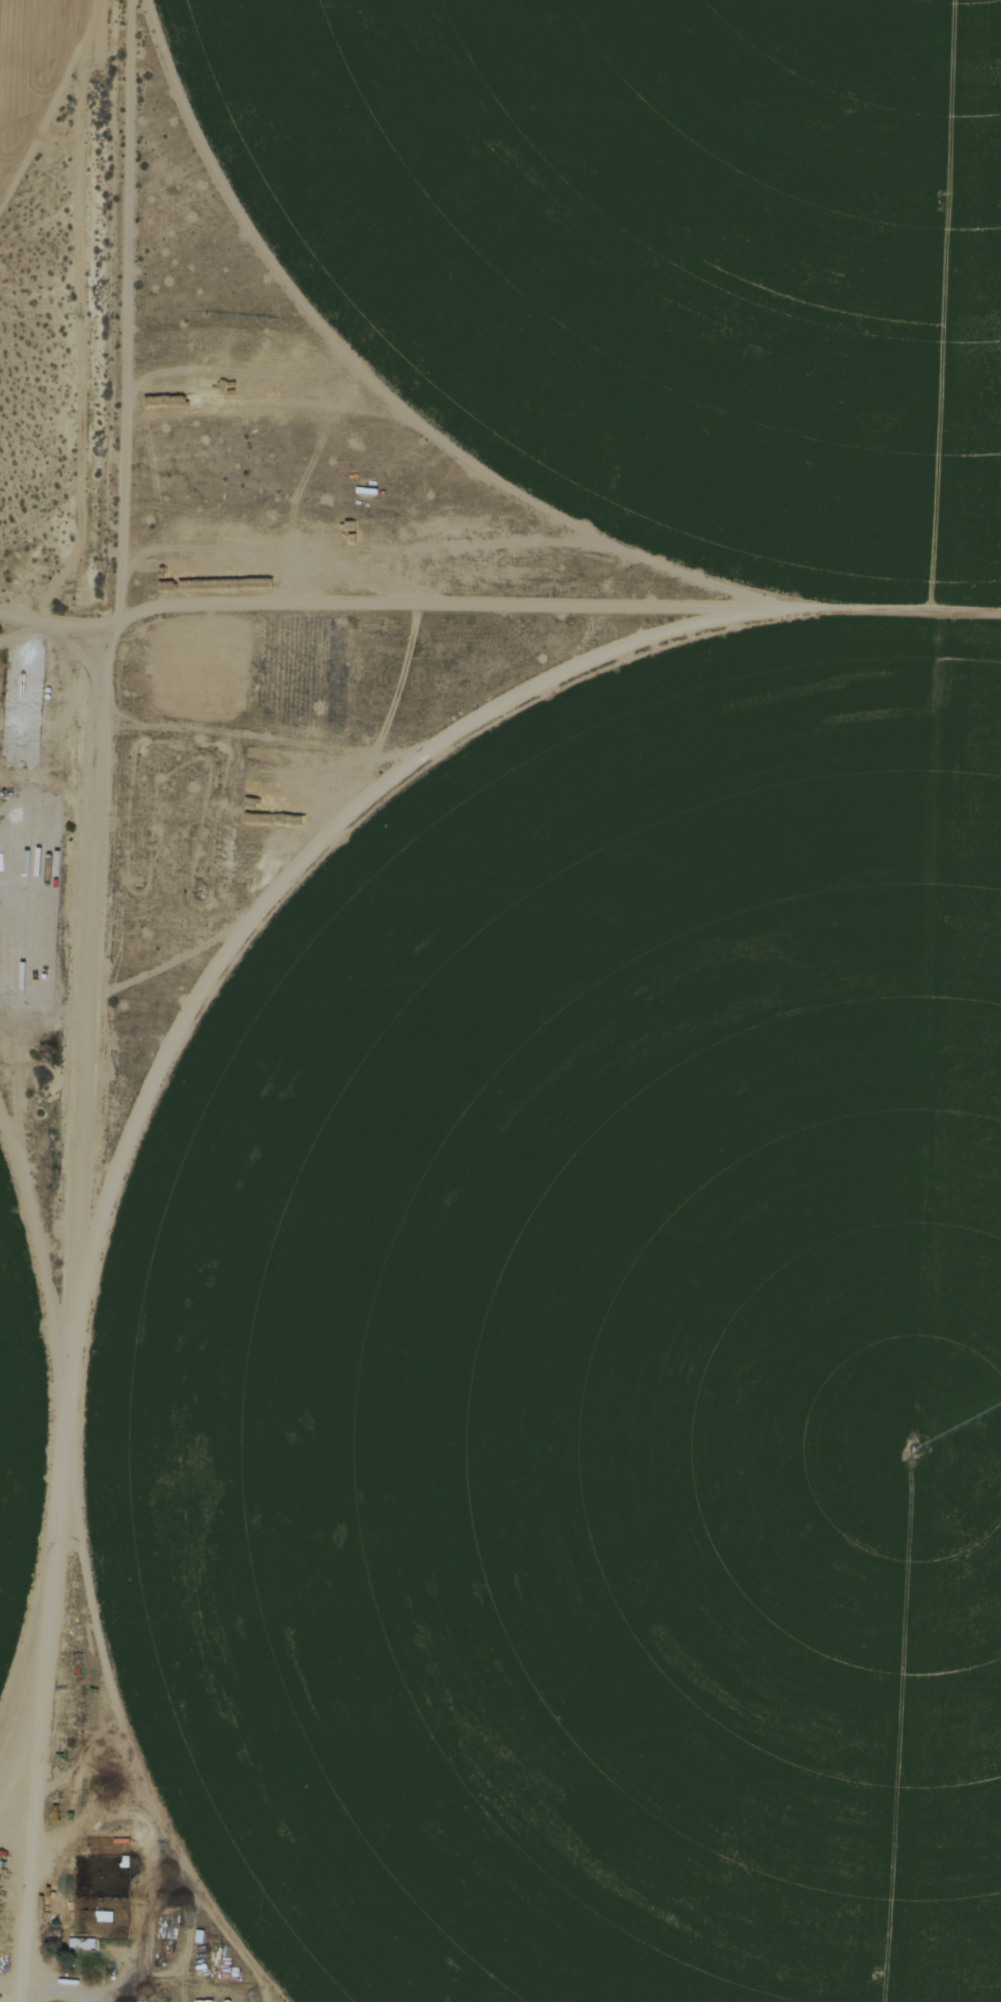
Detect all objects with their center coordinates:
crop: (12, 37)
crop: (676, 233)
road: (105, 306)
road: (50, 606)
crop: (591, 1361)
building: (81, 1941)
building: (204, 2000)

